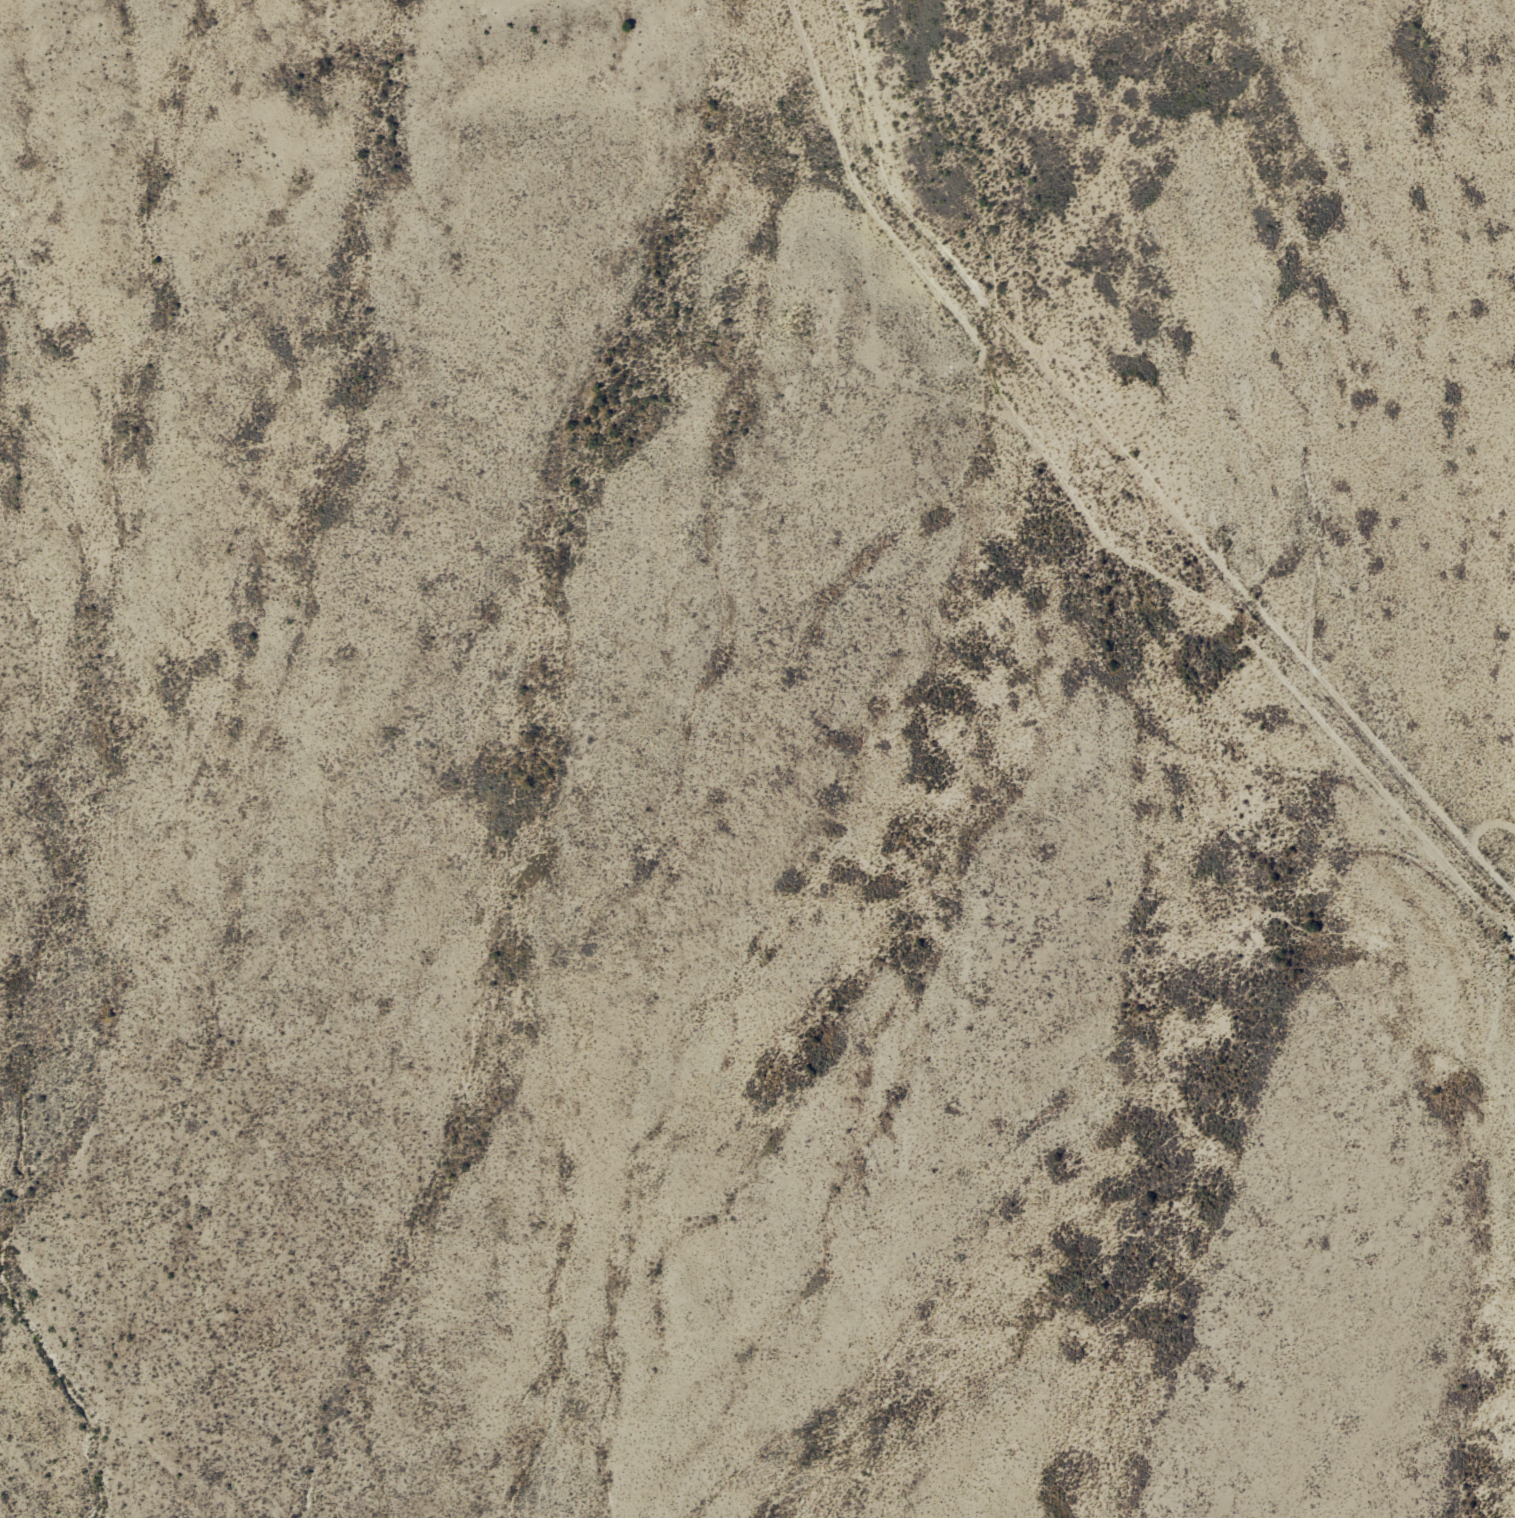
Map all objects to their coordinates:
road: (1143, 478)

